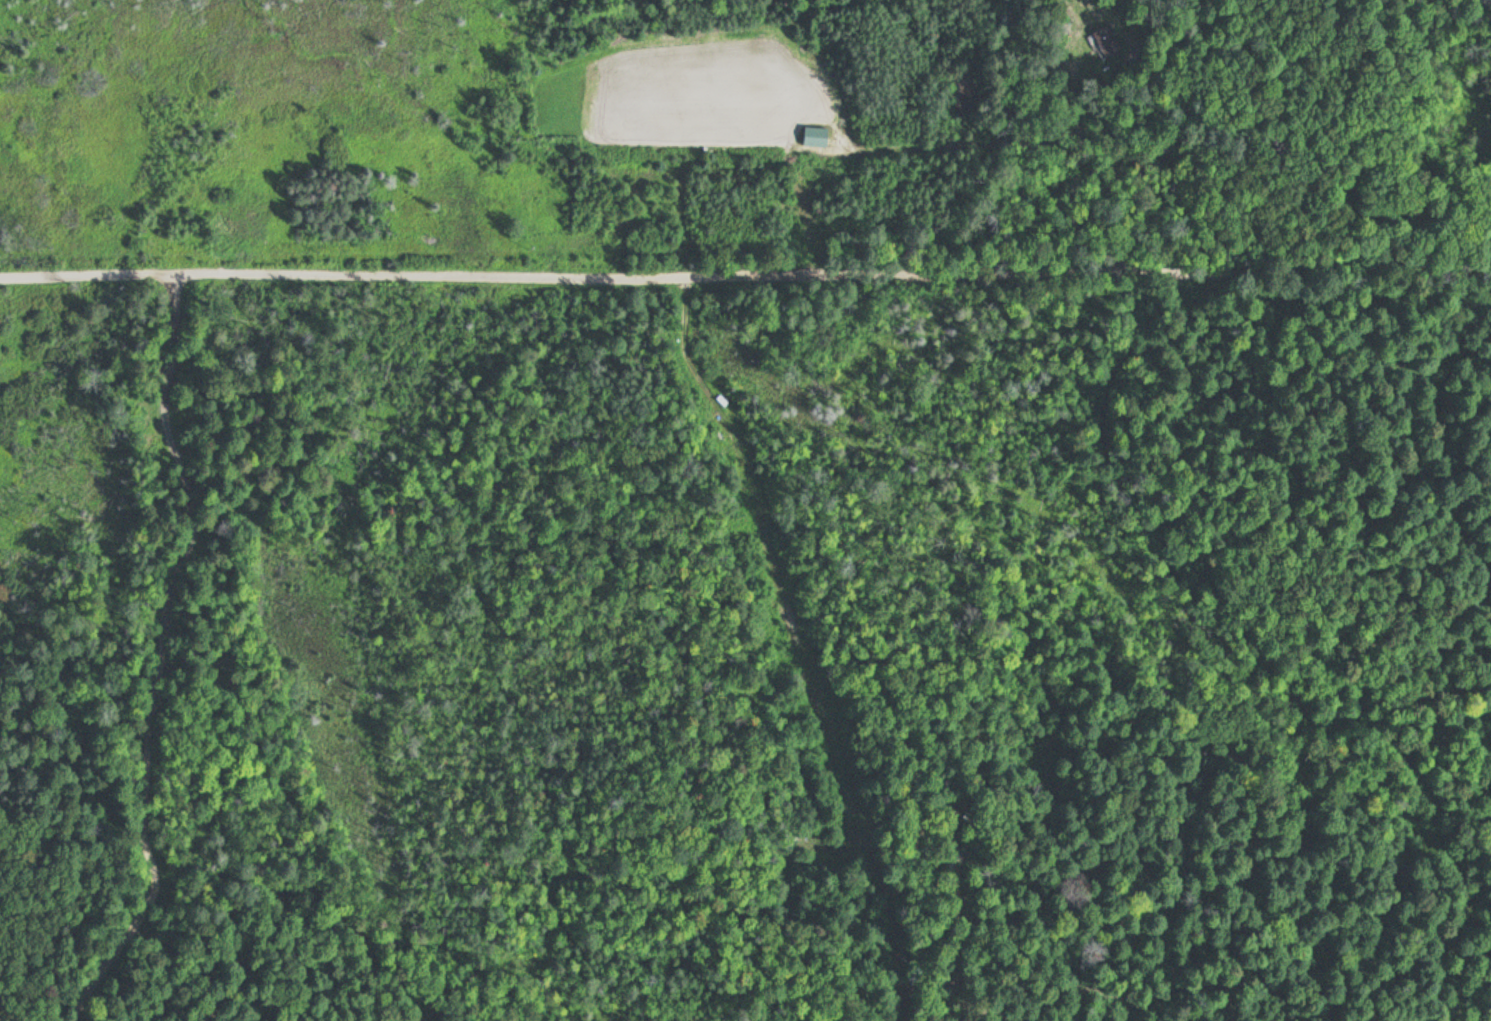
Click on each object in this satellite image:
building: (1105, 40)
road: (993, 136)
road: (745, 273)
road: (164, 654)

